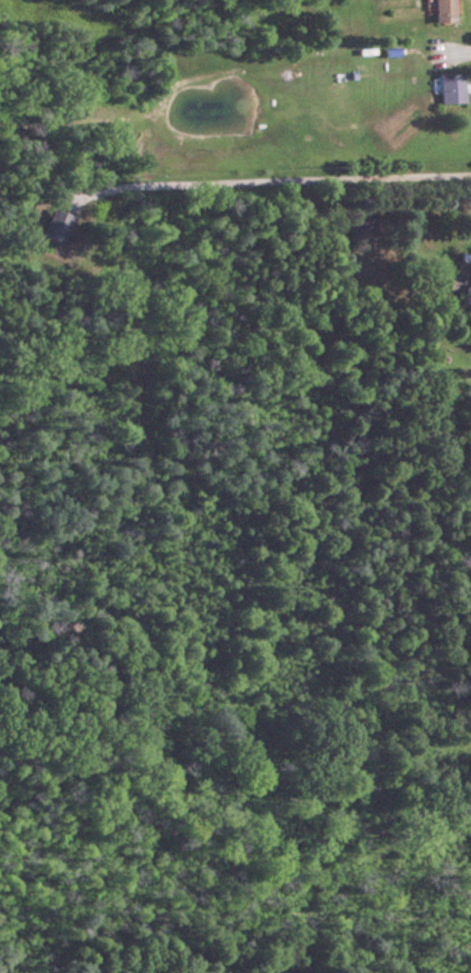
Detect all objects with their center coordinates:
building: (442, 11)
road: (455, 53)
building: (449, 88)
building: (56, 225)
building: (463, 272)

